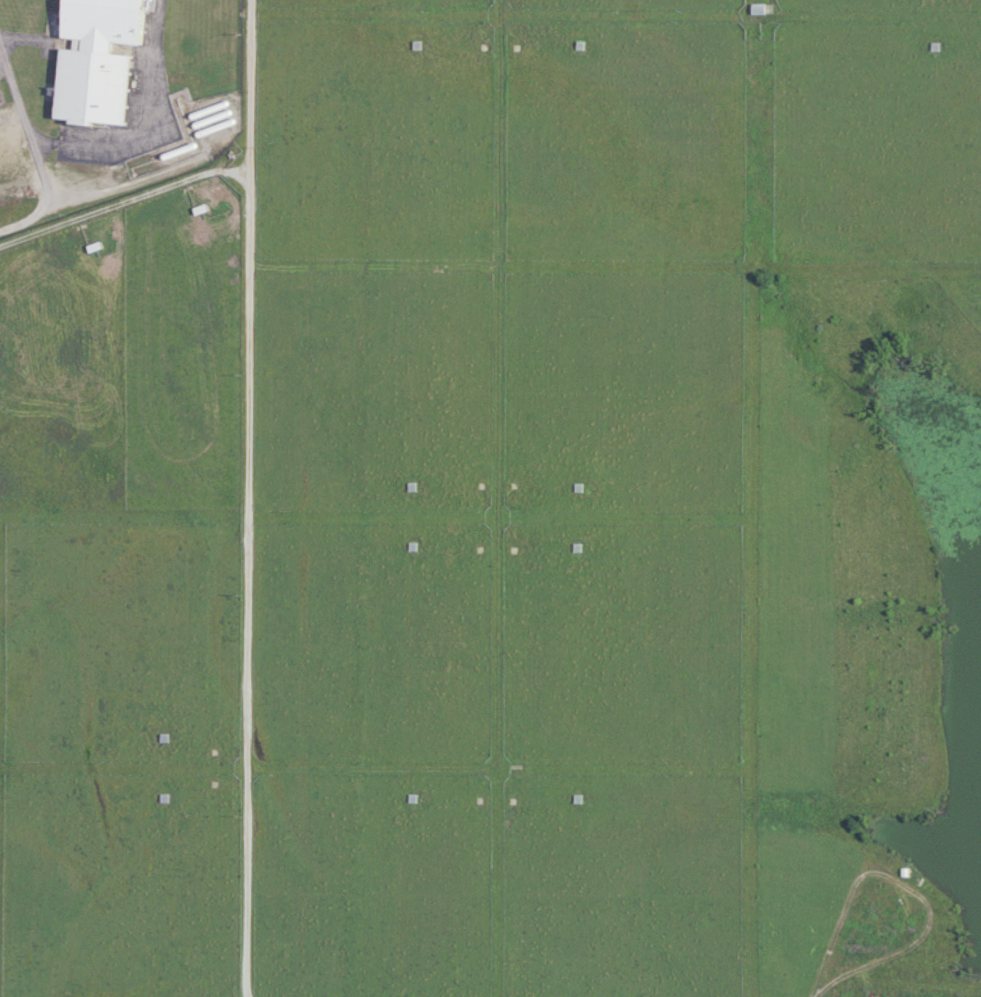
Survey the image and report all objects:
building: (761, 10)
building: (111, 21)
road: (38, 144)

